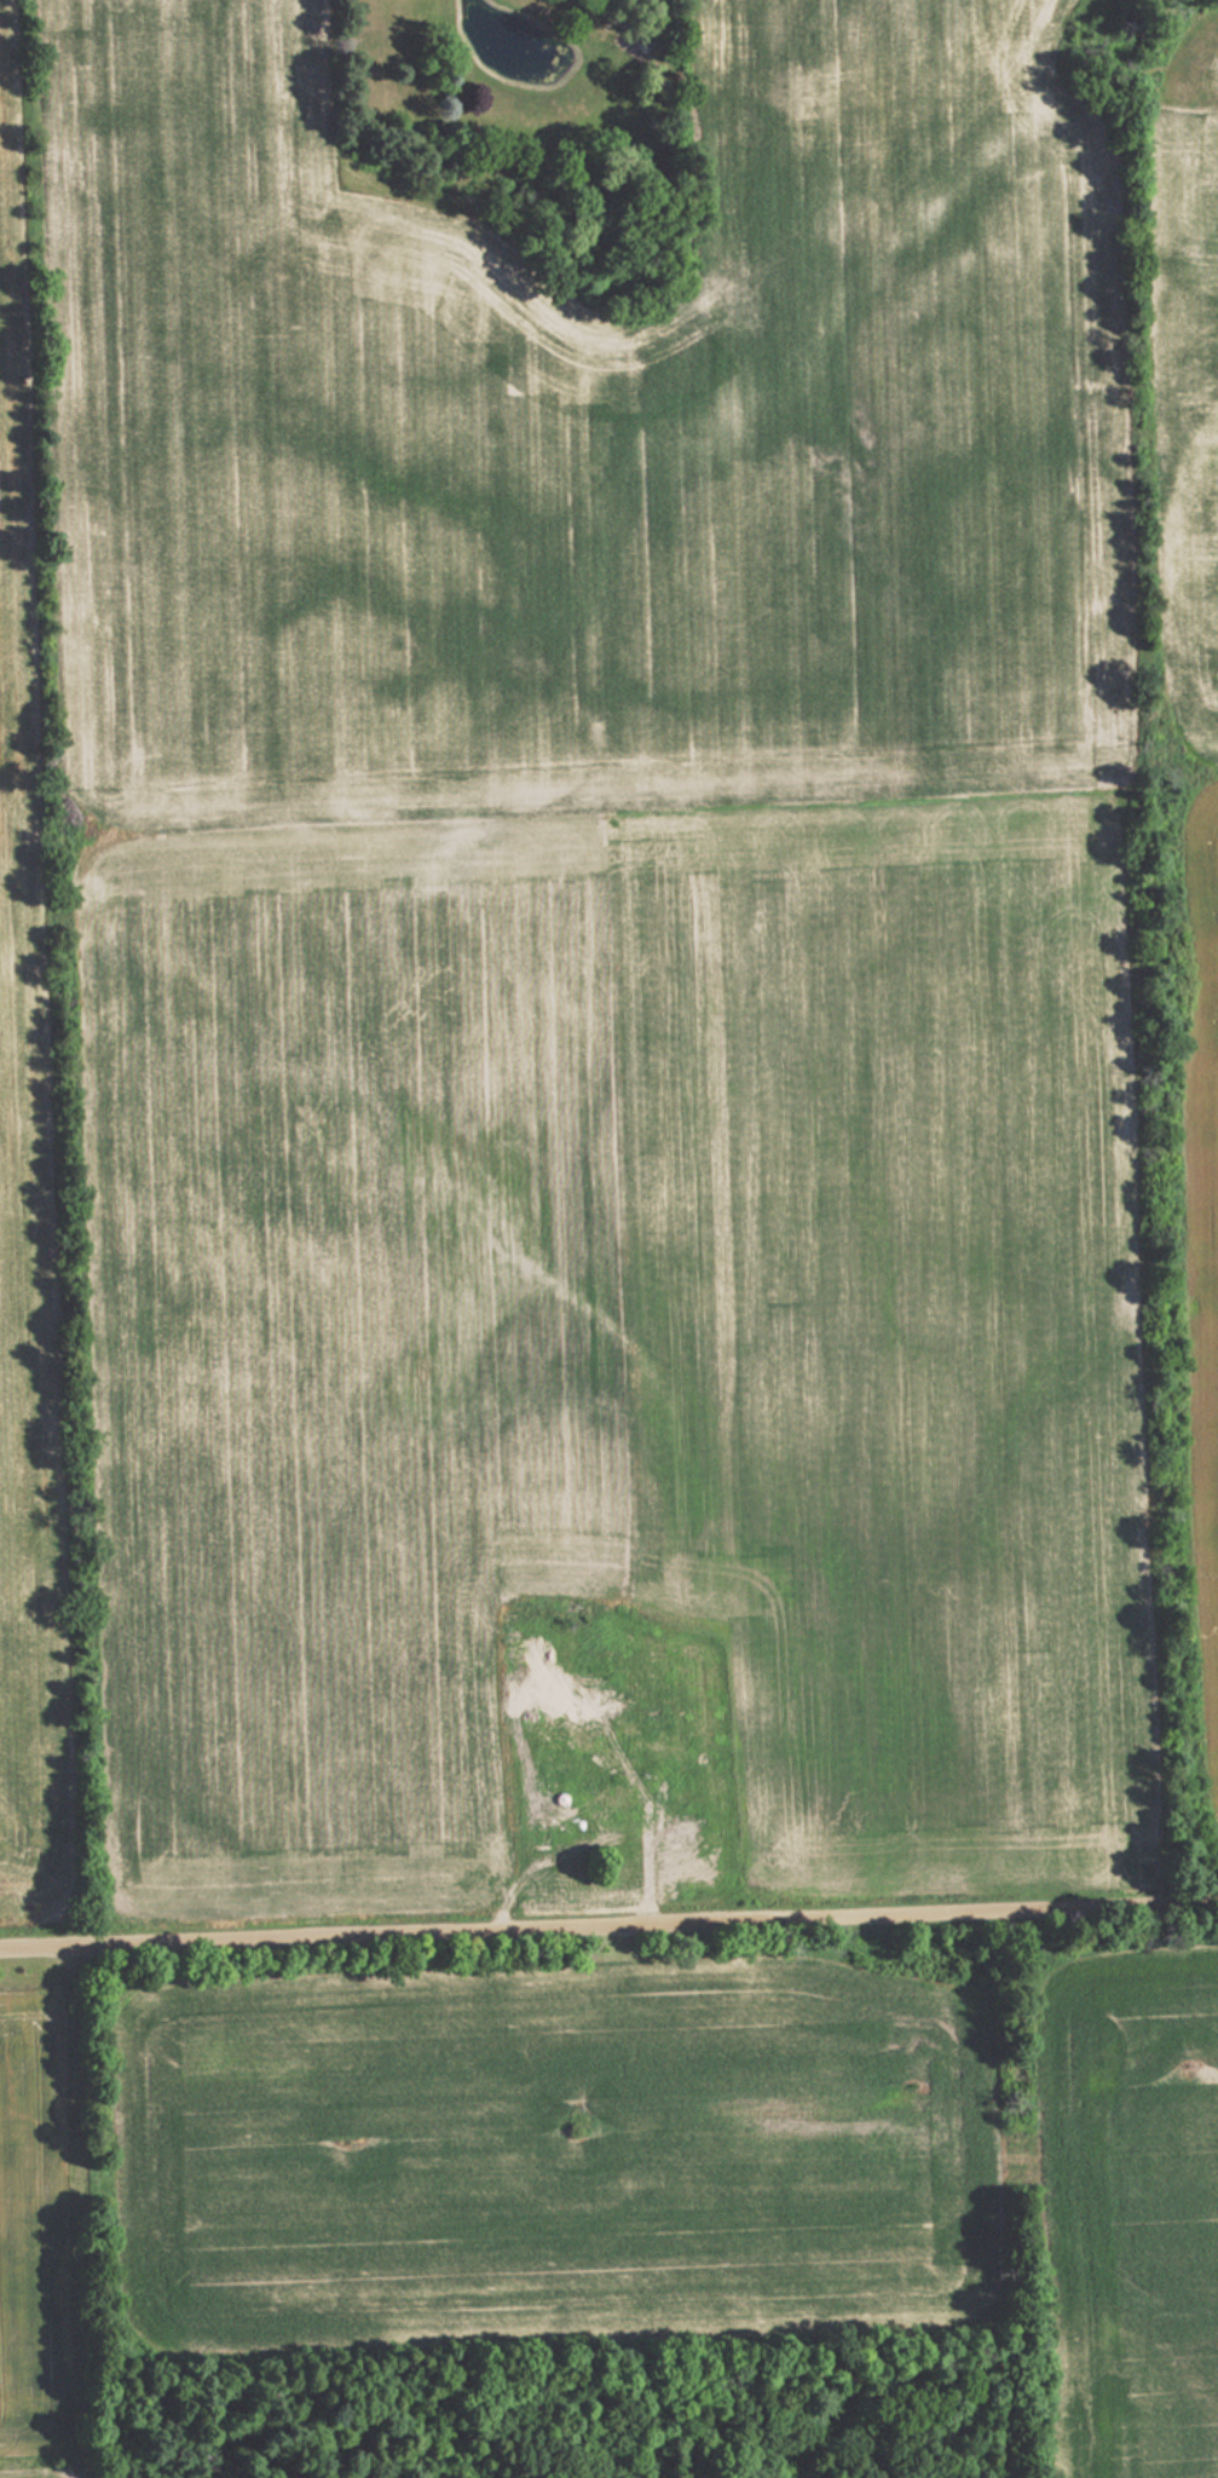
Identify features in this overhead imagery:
building: (549, 1814)
road: (608, 1917)

